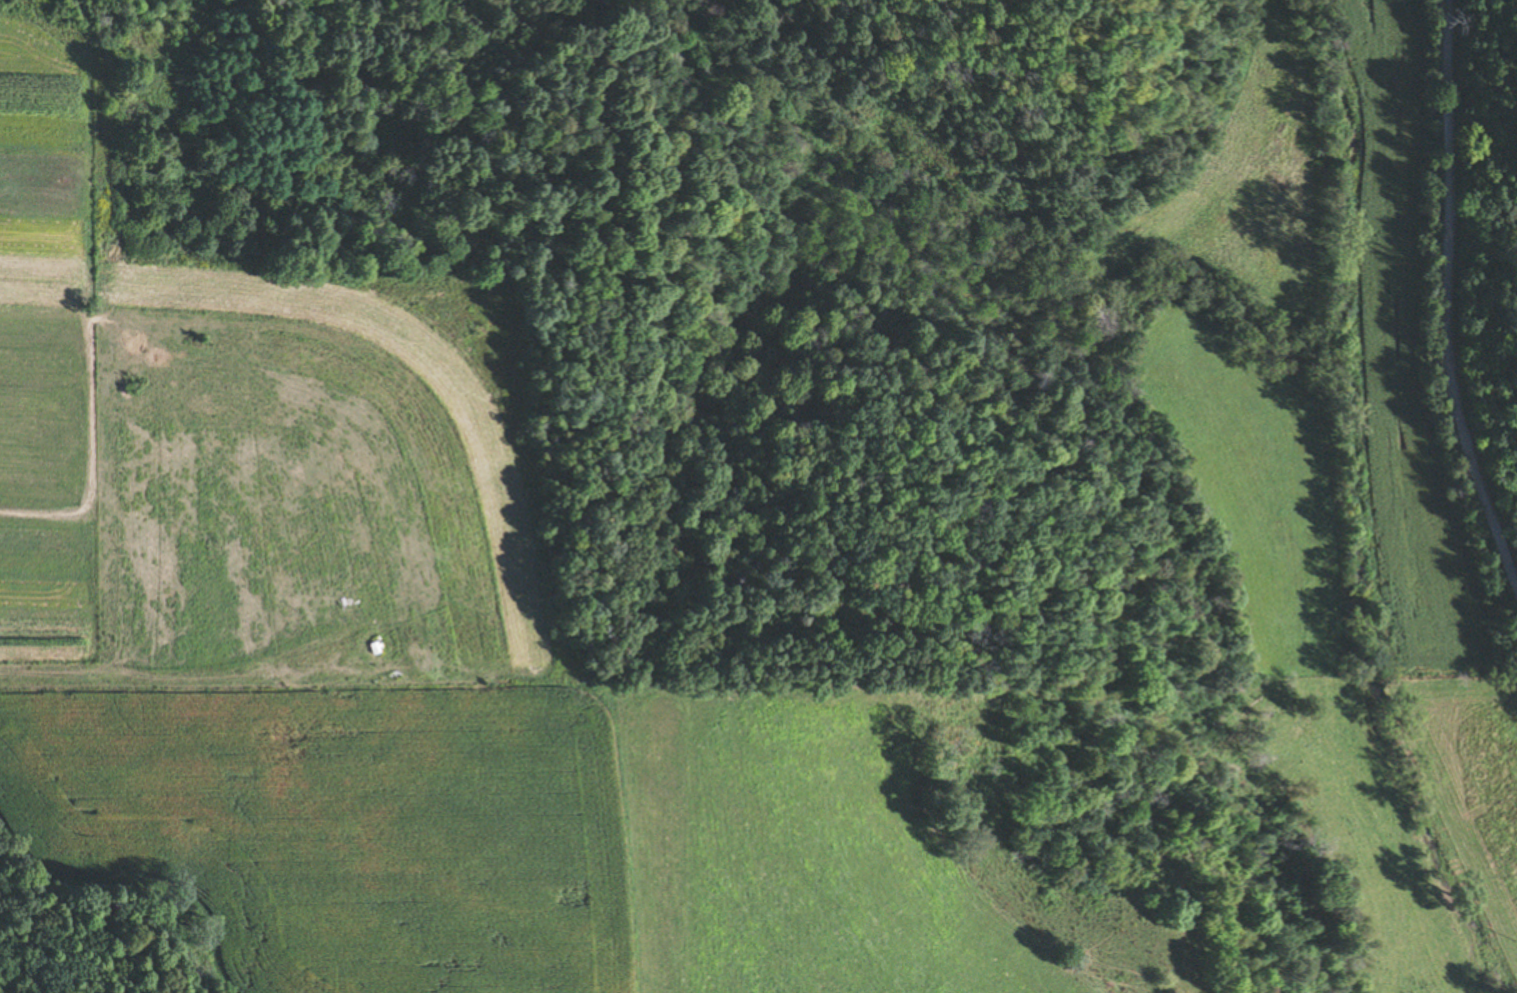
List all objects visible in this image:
crop: (1252, 193)
road: (1446, 301)
crop: (1407, 356)
crop: (42, 363)
crop: (1253, 464)
crop: (311, 476)
crop: (1466, 780)
crop: (365, 823)
crop: (1377, 837)
crop: (831, 887)

